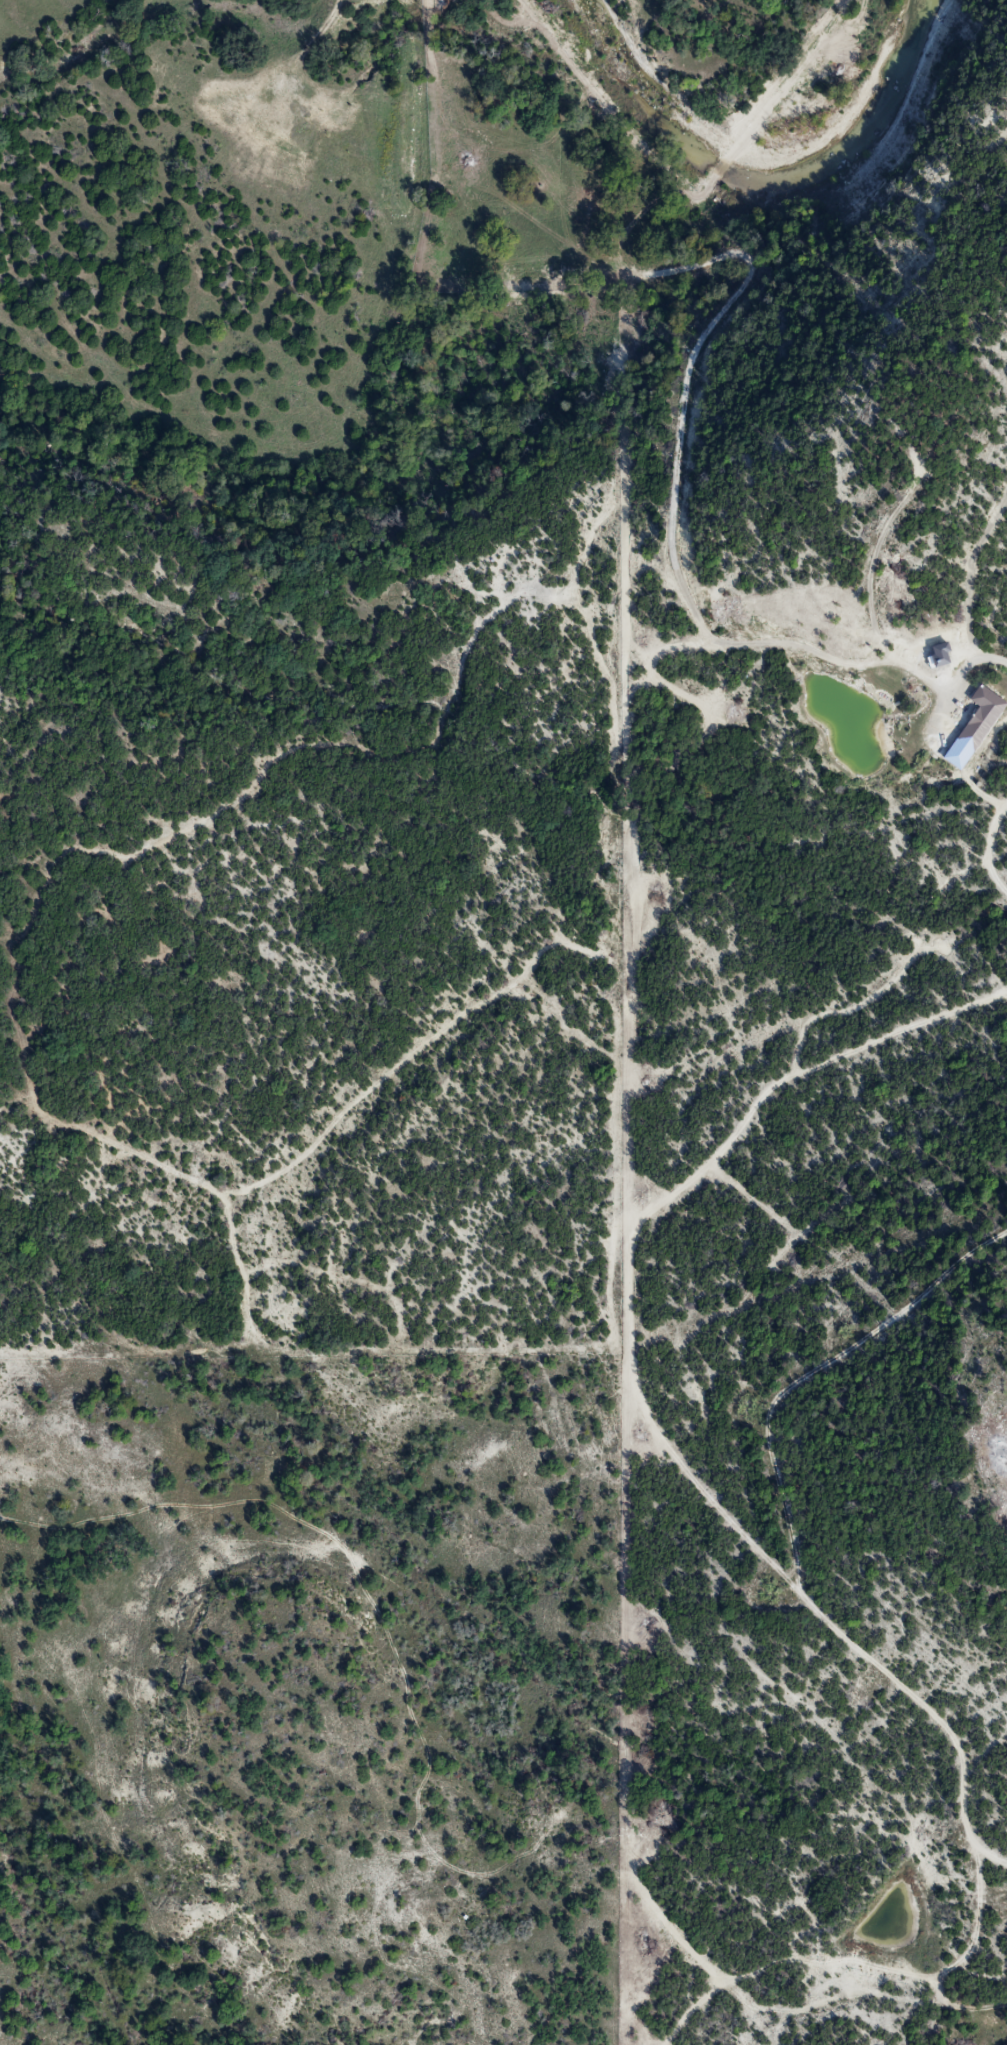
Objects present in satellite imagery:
road: (970, 657)
building: (972, 718)

